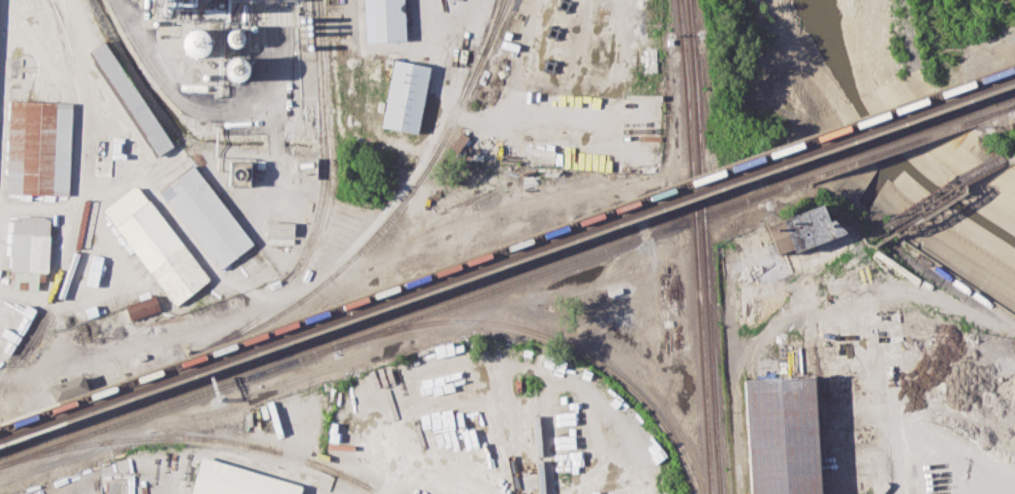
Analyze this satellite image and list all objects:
building: (389, 20)
railway: (493, 30)
building: (196, 42)
building: (406, 95)
building: (134, 100)
railway: (992, 102)
railway: (1012, 105)
road: (209, 109)
railway: (993, 111)
railway: (327, 137)
railway: (885, 140)
building: (459, 141)
river: (889, 143)
building: (39, 147)
railway: (888, 149)
railway: (434, 156)
railway: (1009, 156)
building: (244, 174)
railway: (81, 199)
railway: (934, 199)
railway: (88, 203)
building: (202, 209)
building: (282, 228)
building: (805, 236)
building: (156, 243)
railway: (695, 246)
railway: (703, 246)
railway: (507, 247)
building: (29, 250)
railway: (507, 258)
building: (752, 299)
railway: (775, 299)
railway: (950, 303)
building: (141, 308)
railway: (400, 312)
railway: (402, 321)
railway: (554, 338)
railway: (219, 341)
railway: (165, 376)
building: (70, 386)
railway: (505, 422)
building: (783, 434)
railway: (194, 437)
railway: (538, 442)
building: (240, 481)
building: (99, 482)

